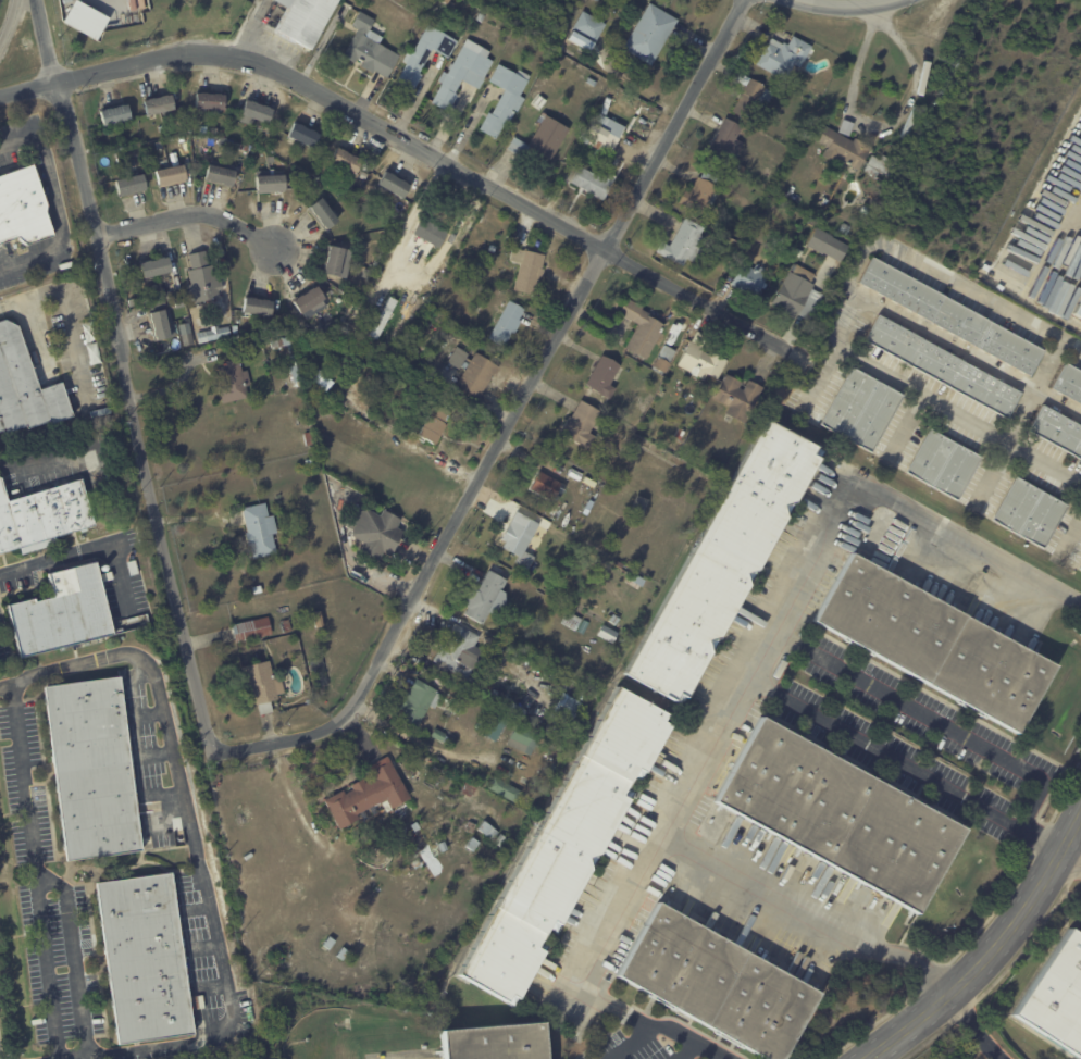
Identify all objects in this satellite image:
building: (597, 0)
building: (445, 1)
road: (844, 5)
building: (606, 15)
building: (479, 18)
building: (301, 20)
road: (7, 21)
building: (85, 21)
building: (588, 26)
road: (250, 28)
building: (650, 34)
road: (45, 41)
building: (560, 47)
building: (370, 49)
building: (424, 55)
building: (787, 57)
building: (462, 75)
building: (509, 80)
building: (592, 82)
building: (751, 97)
building: (210, 100)
building: (539, 102)
building: (158, 103)
building: (254, 112)
building: (501, 113)
building: (115, 114)
road: (879, 125)
building: (303, 134)
building: (602, 134)
building: (223, 140)
road: (407, 140)
building: (542, 140)
building: (726, 142)
building: (233, 144)
building: (844, 148)
building: (271, 159)
building: (345, 159)
building: (613, 161)
building: (132, 162)
building: (879, 165)
building: (769, 171)
building: (102, 174)
building: (220, 174)
building: (171, 175)
building: (776, 177)
building: (271, 183)
building: (593, 183)
building: (131, 184)
building: (394, 185)
building: (701, 192)
road: (55, 204)
building: (23, 208)
building: (866, 209)
building: (323, 212)
road: (187, 214)
road: (412, 215)
building: (845, 228)
building: (423, 231)
road: (1079, 236)
building: (684, 242)
building: (828, 244)
building: (15, 245)
building: (493, 248)
building: (799, 252)
building: (333, 260)
building: (156, 266)
building: (529, 270)
building: (368, 273)
building: (201, 278)
building: (750, 278)
building: (376, 294)
building: (798, 294)
building: (310, 301)
building: (258, 306)
building: (1079, 310)
road: (65, 311)
road: (837, 311)
building: (953, 315)
building: (384, 316)
building: (507, 322)
building: (162, 323)
building: (321, 327)
building: (642, 327)
building: (89, 332)
building: (214, 334)
building: (307, 337)
building: (188, 338)
building: (281, 342)
road: (962, 350)
building: (94, 353)
building: (655, 353)
building: (703, 358)
building: (666, 359)
building: (943, 365)
building: (473, 371)
building: (296, 374)
building: (604, 376)
building: (321, 377)
building: (234, 381)
building: (1069, 383)
building: (25, 386)
road: (1036, 391)
building: (660, 396)
building: (738, 397)
building: (862, 409)
building: (101, 412)
road: (136, 416)
road: (511, 418)
building: (433, 422)
building: (350, 424)
building: (581, 424)
building: (1058, 431)
building: (680, 433)
building: (310, 438)
road: (51, 457)
building: (309, 462)
building: (699, 463)
building: (945, 464)
building: (710, 466)
building: (545, 486)
building: (639, 506)
building: (588, 507)
building: (1030, 513)
building: (44, 516)
building: (260, 529)
building: (375, 531)
building: (522, 539)
road: (60, 557)
building: (725, 562)
building: (133, 568)
building: (1080, 569)
building: (107, 576)
road: (121, 576)
building: (258, 589)
building: (488, 598)
building: (62, 612)
building: (319, 619)
building: (572, 621)
building: (286, 626)
building: (251, 628)
building: (608, 634)
building: (930, 643)
building: (458, 653)
building: (320, 672)
building: (262, 685)
road: (747, 694)
building: (419, 699)
road: (933, 718)
building: (494, 726)
building: (437, 734)
building: (520, 738)
road: (906, 765)
building: (92, 769)
building: (506, 789)
building: (366, 795)
building: (840, 815)
building: (414, 826)
building: (489, 831)
building: (149, 840)
building: (473, 845)
building: (443, 847)
building: (566, 847)
road: (196, 849)
road: (1070, 858)
road: (35, 870)
building: (484, 871)
building: (328, 943)
road: (610, 946)
road: (990, 951)
building: (343, 954)
road: (74, 959)
building: (145, 959)
building: (718, 984)
road: (573, 986)
building: (1057, 997)
road: (976, 1025)
road: (684, 1037)
building: (495, 1042)
road: (624, 1042)
road: (681, 1050)

